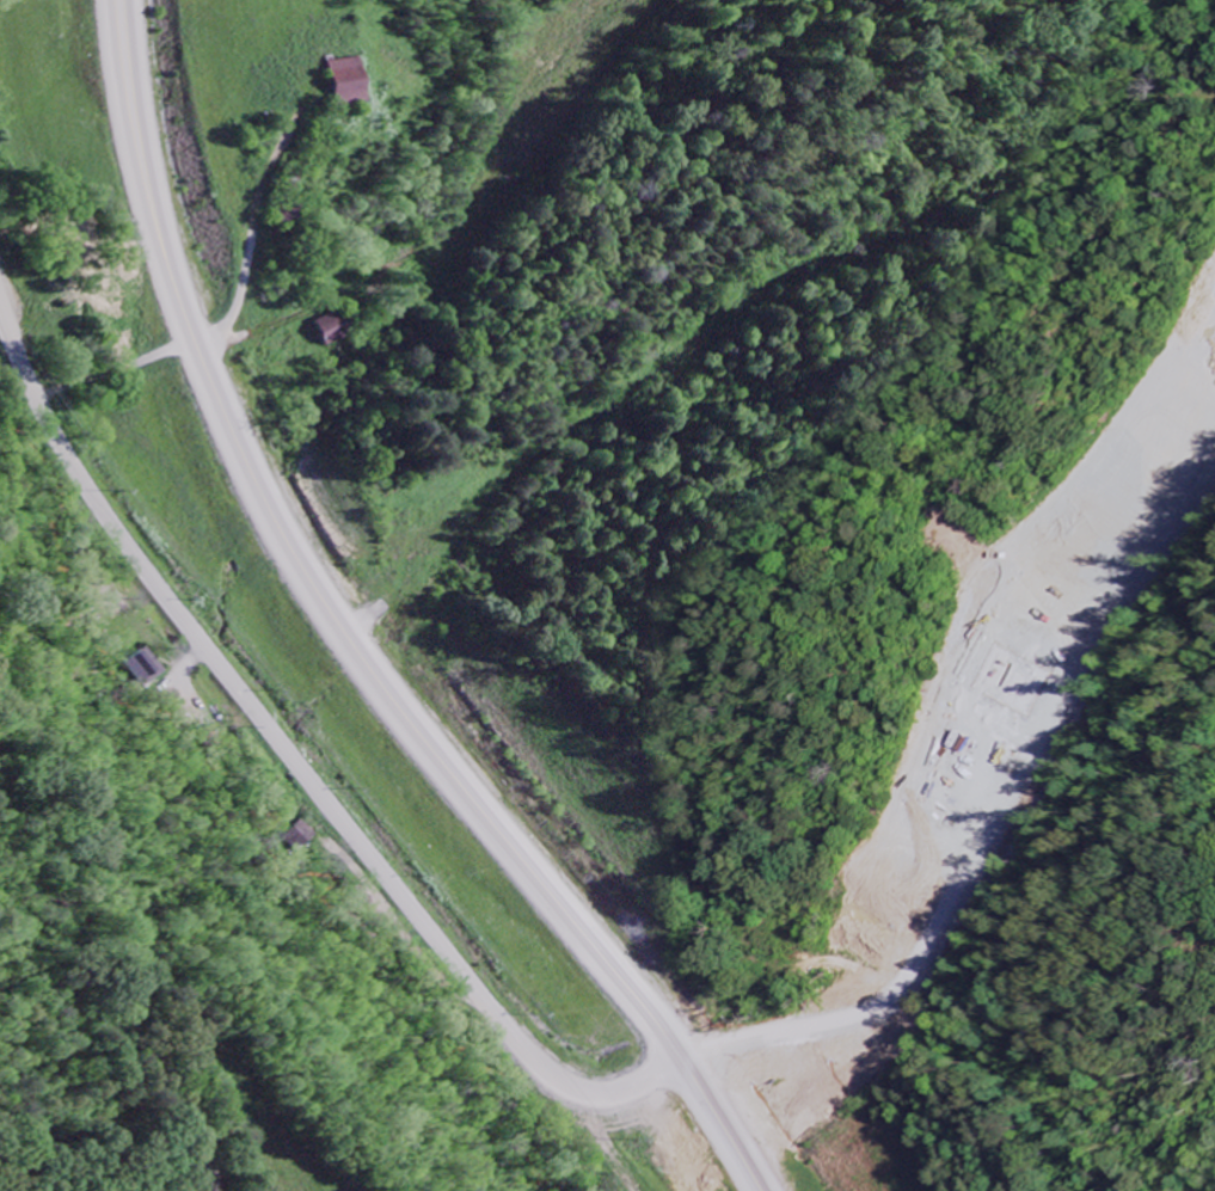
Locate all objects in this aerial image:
building: (351, 82)
building: (338, 327)
road: (352, 644)
building: (147, 668)
road: (293, 760)
road: (168, 1162)
road: (211, 1165)

